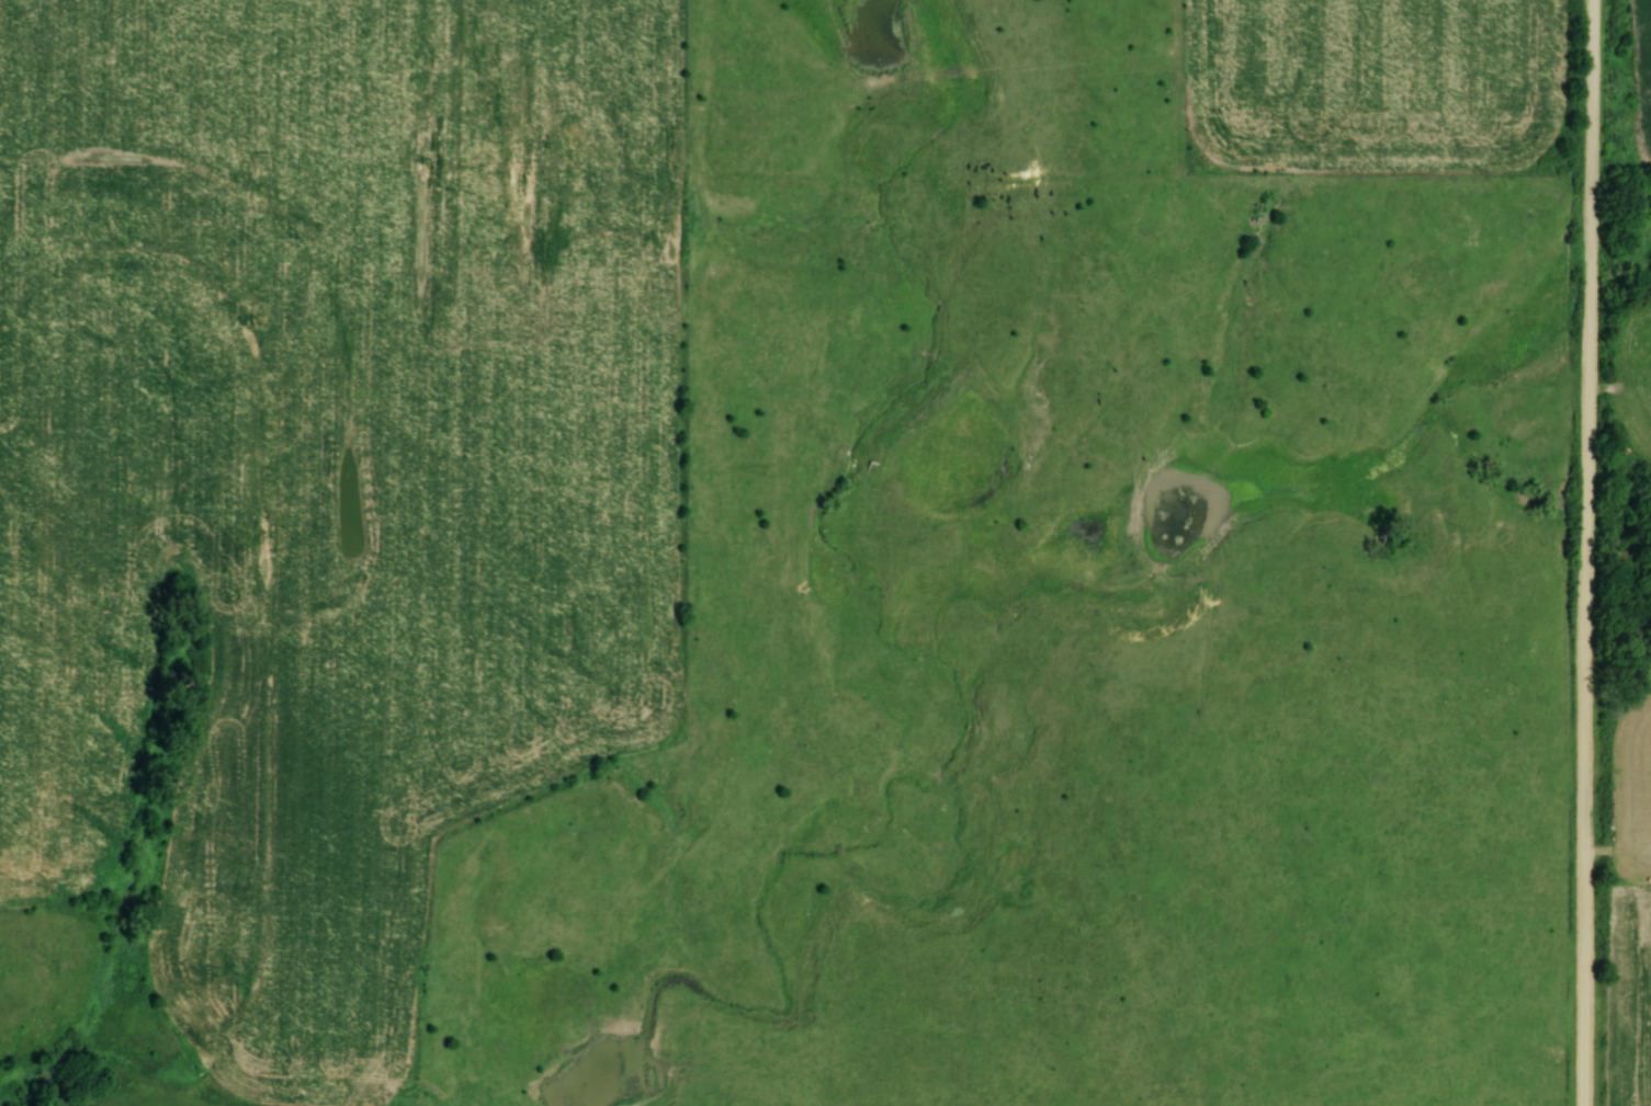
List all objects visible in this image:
road: (1591, 552)

